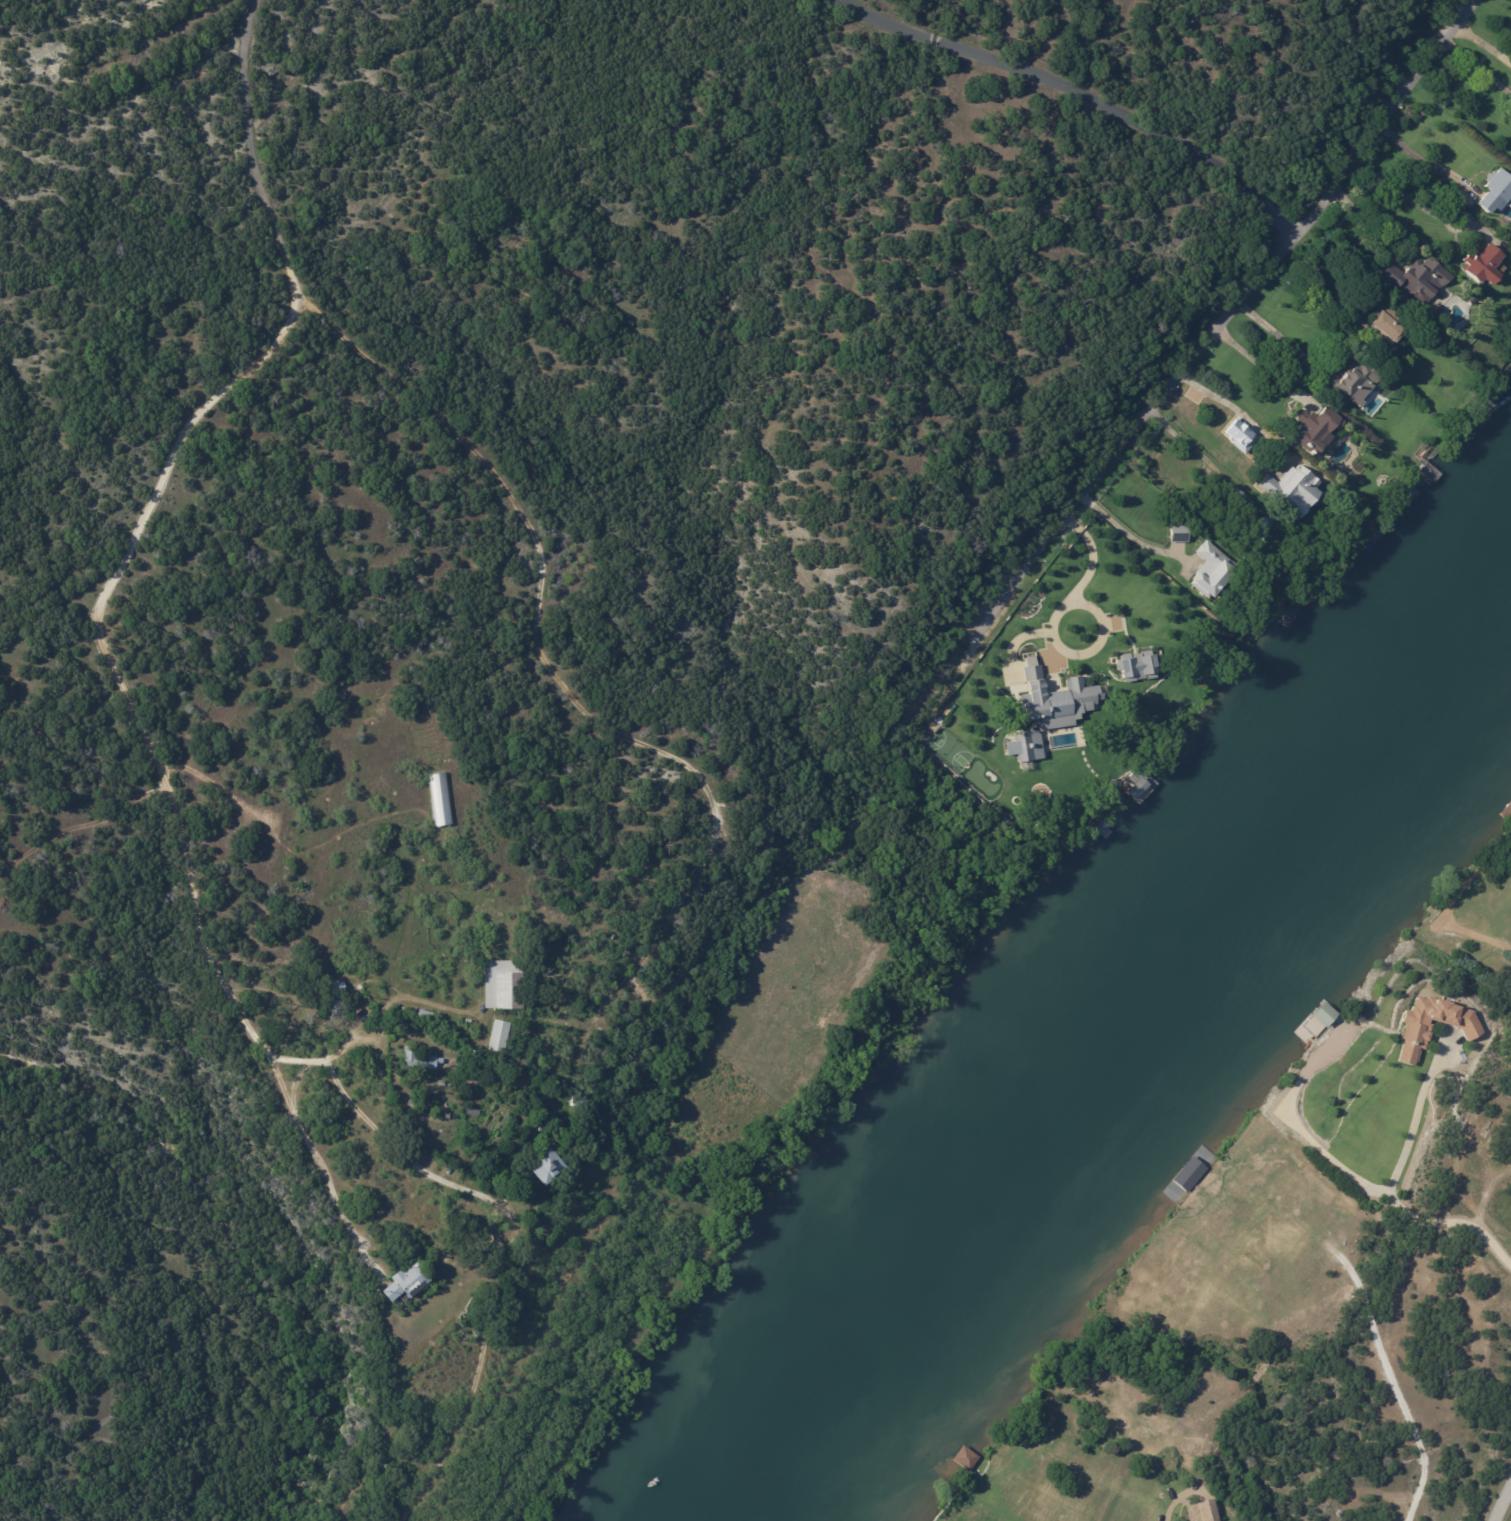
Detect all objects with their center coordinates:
road: (1477, 66)
road: (1087, 95)
road: (1419, 159)
building: (1494, 190)
road: (1426, 208)
building: (1485, 265)
building: (1417, 280)
building: (1473, 300)
building: (1357, 324)
building: (1389, 325)
road: (1275, 334)
road: (1190, 362)
road: (1253, 365)
building: (1349, 380)
road: (1241, 407)
building: (1315, 431)
road: (1192, 447)
building: (1291, 487)
building: (1240, 503)
building: (1180, 534)
building: (1260, 536)
building: (1212, 573)
road: (98, 615)
road: (1102, 621)
road: (546, 656)
building: (1135, 666)
building: (1055, 699)
building: (1025, 746)
building: (1067, 755)
building: (984, 767)
building: (1136, 787)
building: (439, 799)
building: (1100, 825)
building: (502, 985)
building: (333, 989)
building: (1322, 1013)
building: (425, 1016)
building: (1415, 1030)
building: (502, 1037)
building: (418, 1060)
river: (1134, 1069)
building: (493, 1074)
building: (441, 1083)
building: (512, 1086)
building: (575, 1106)
road: (379, 1133)
building: (544, 1168)
road: (1388, 1183)
building: (405, 1284)
building: (965, 1458)
road: (1503, 1505)
building: (1204, 1513)

